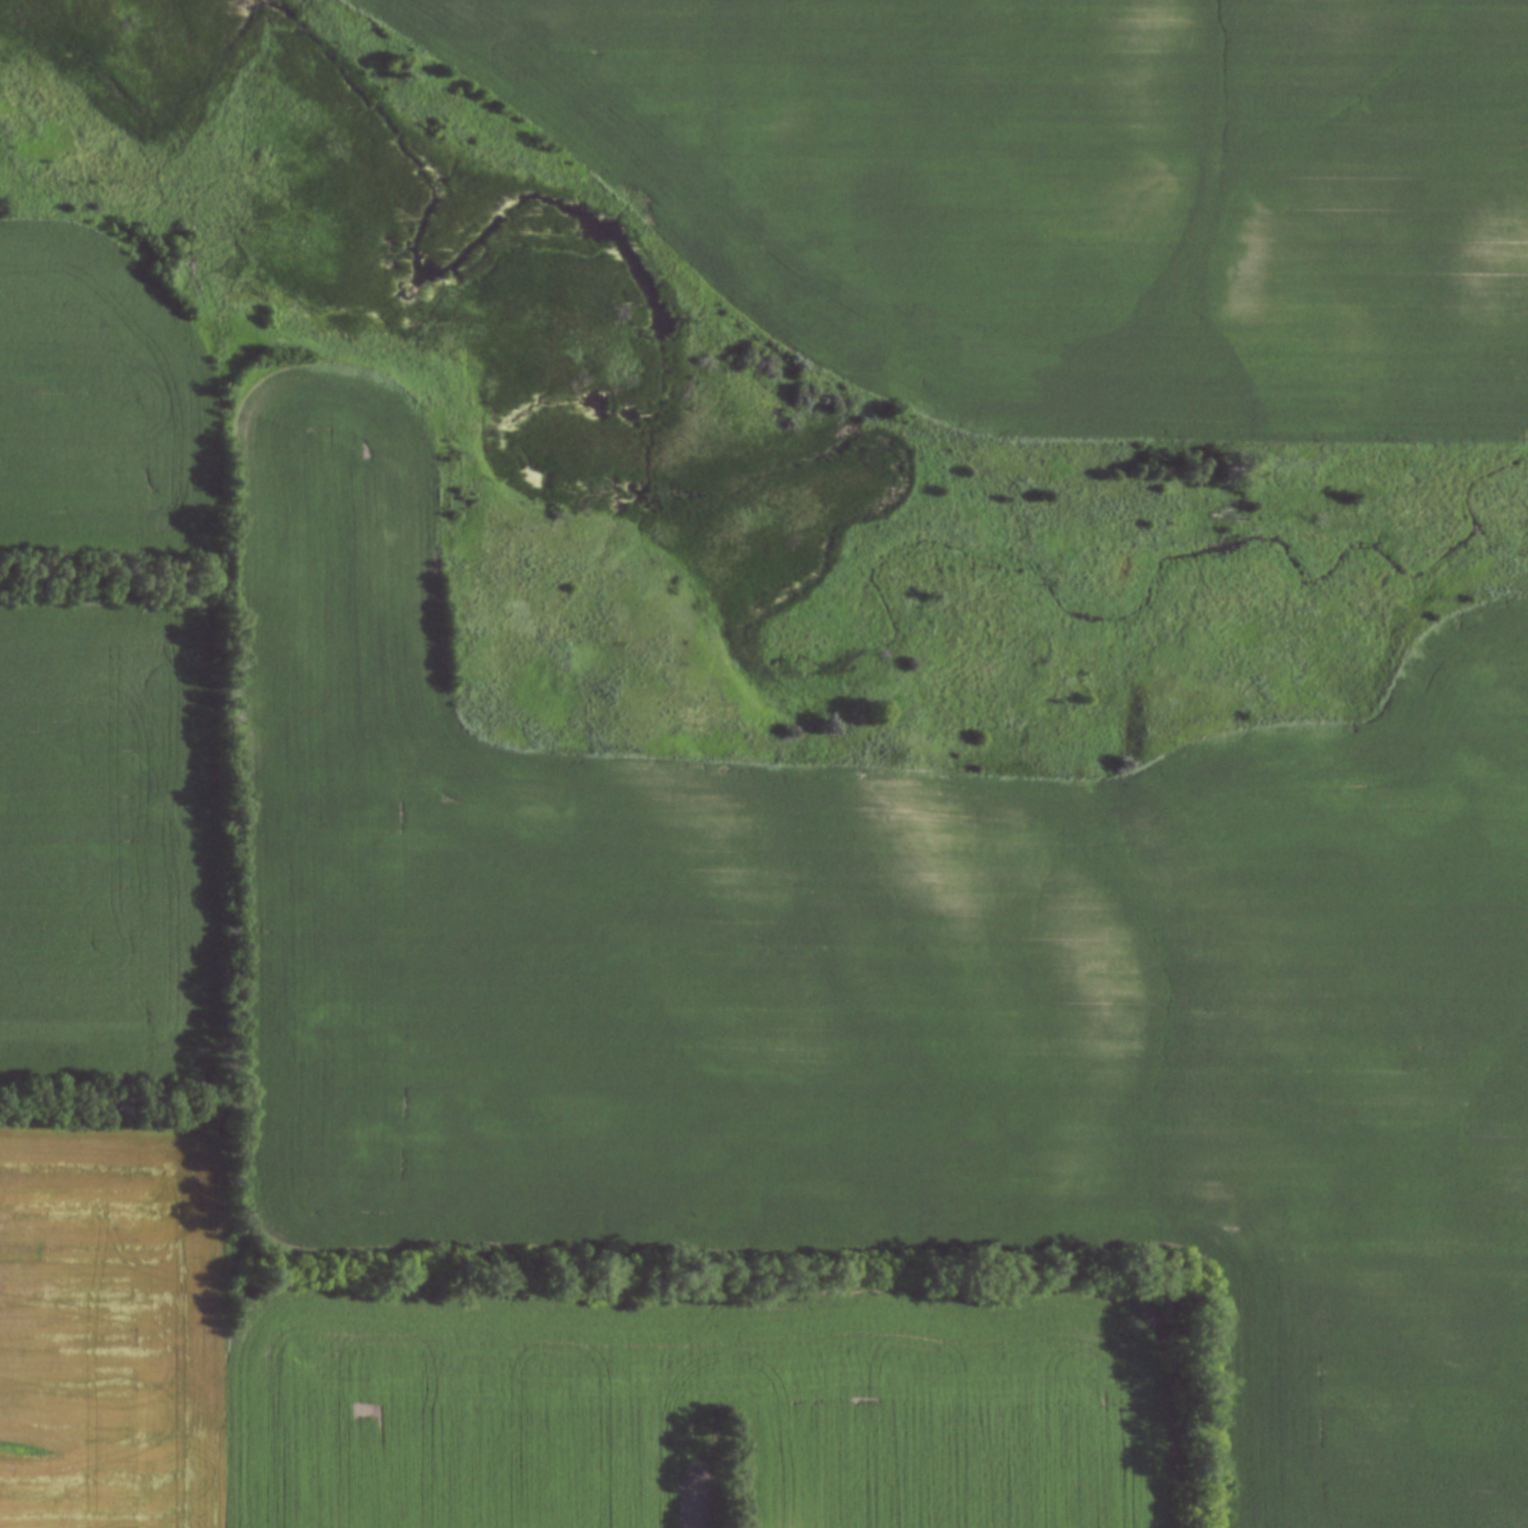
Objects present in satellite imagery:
river: (720, 486)

